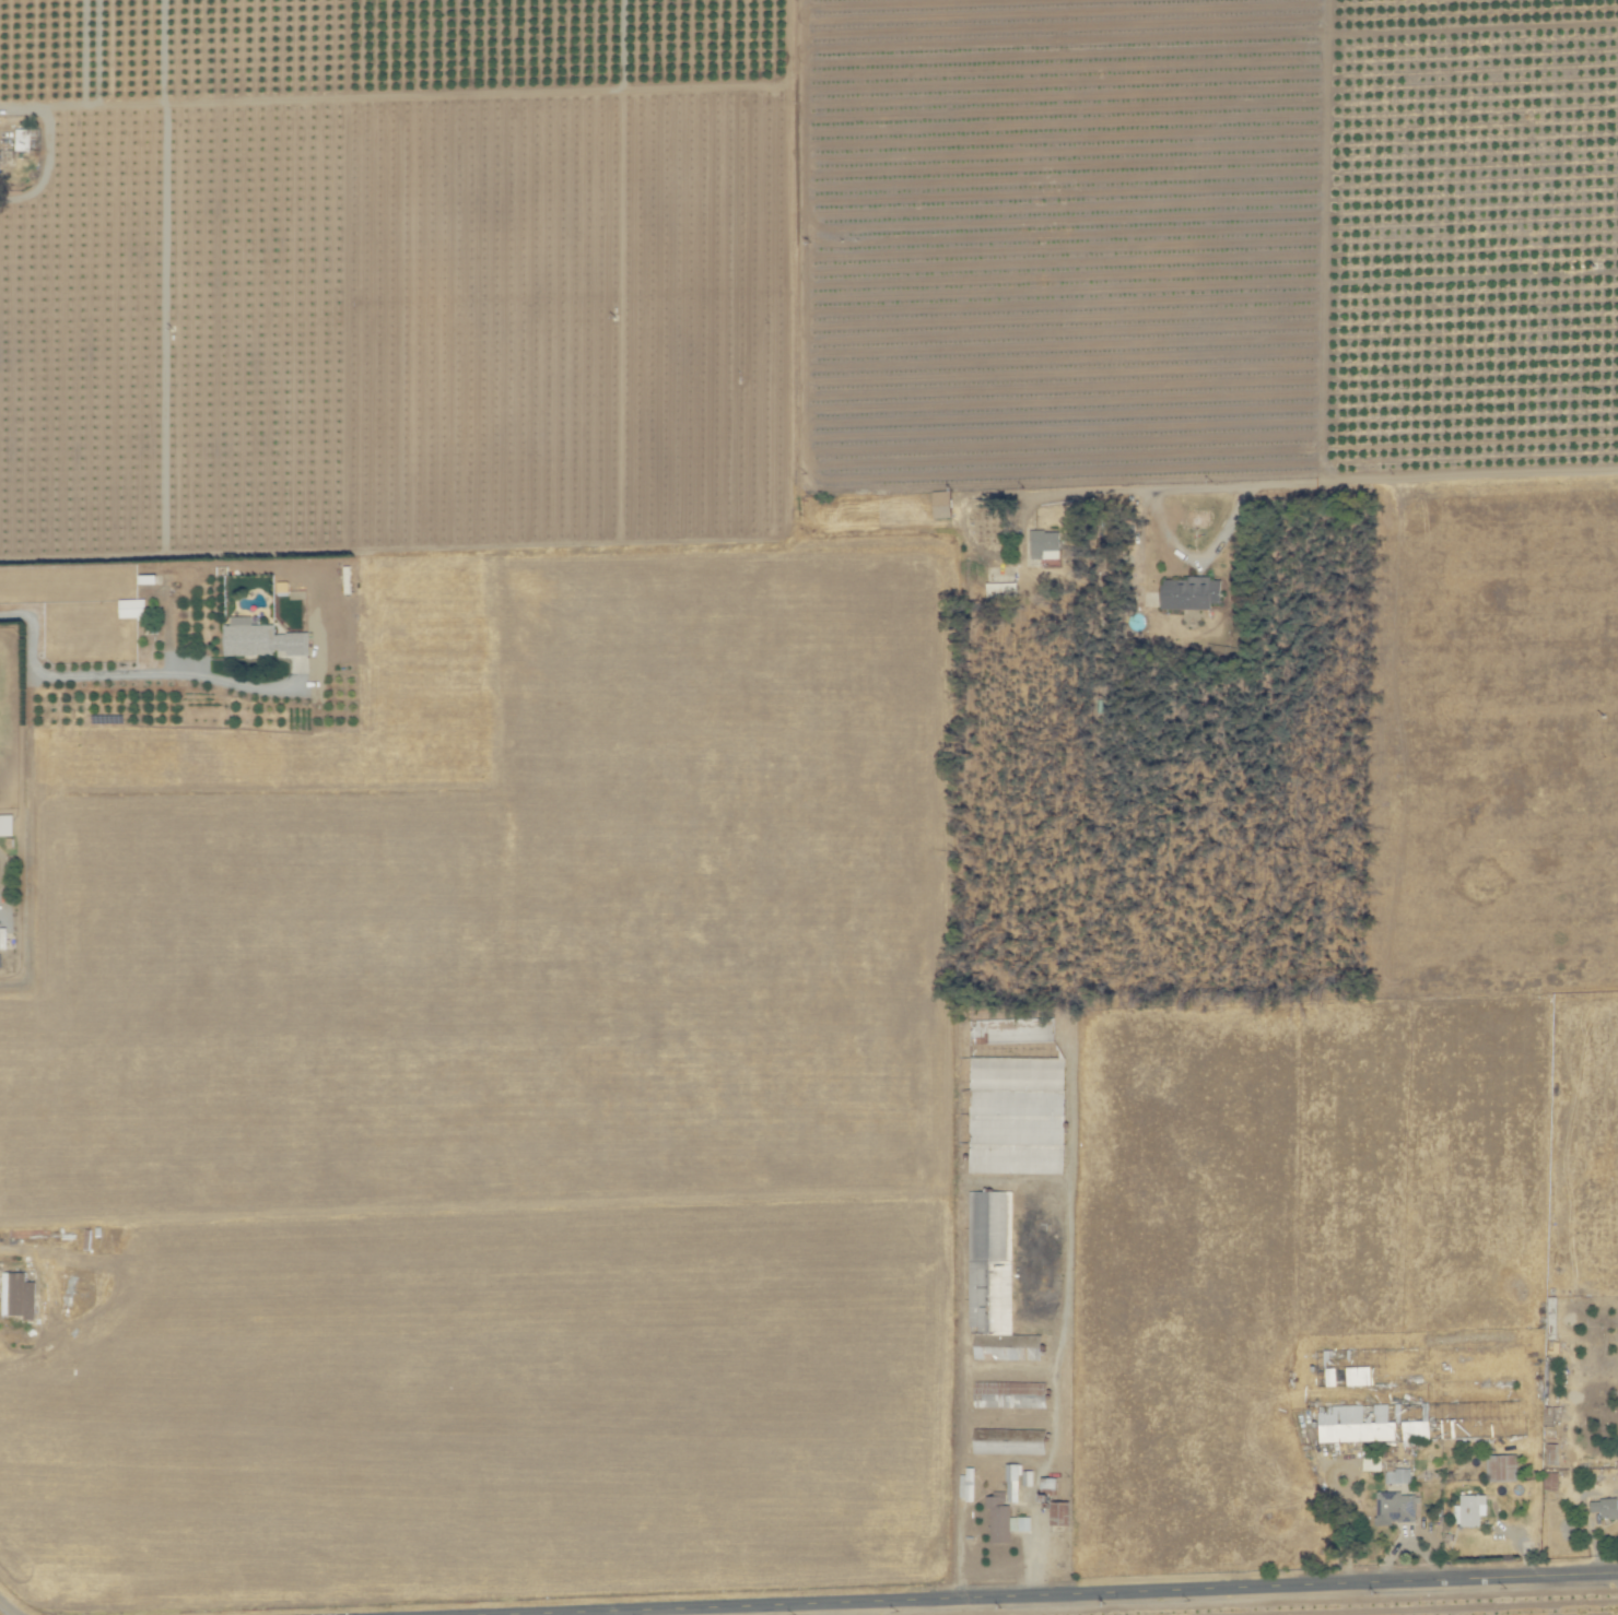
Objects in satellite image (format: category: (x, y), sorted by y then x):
road: (437, 95)
road: (1381, 481)
building: (940, 504)
building: (1043, 545)
building: (1000, 590)
building: (1189, 593)
building: (130, 609)
building: (259, 639)
road: (107, 676)
crop: (233, 692)
crop: (809, 807)
building: (5, 825)
building: (1012, 1030)
crop: (970, 1265)
building: (993, 1277)
building: (52, 1292)
building: (12, 1293)
building: (1008, 1395)
building: (1358, 1423)
building: (1417, 1427)
building: (1371, 1463)
building: (1501, 1467)
building: (1397, 1476)
building: (1025, 1477)
building: (1550, 1482)
building: (1011, 1483)
building: (966, 1484)
building: (1395, 1508)
building: (1605, 1508)
building: (1469, 1510)
building: (1057, 1513)
building: (1003, 1520)
road: (960, 1567)
road: (1186, 1594)
road: (4, 1610)

